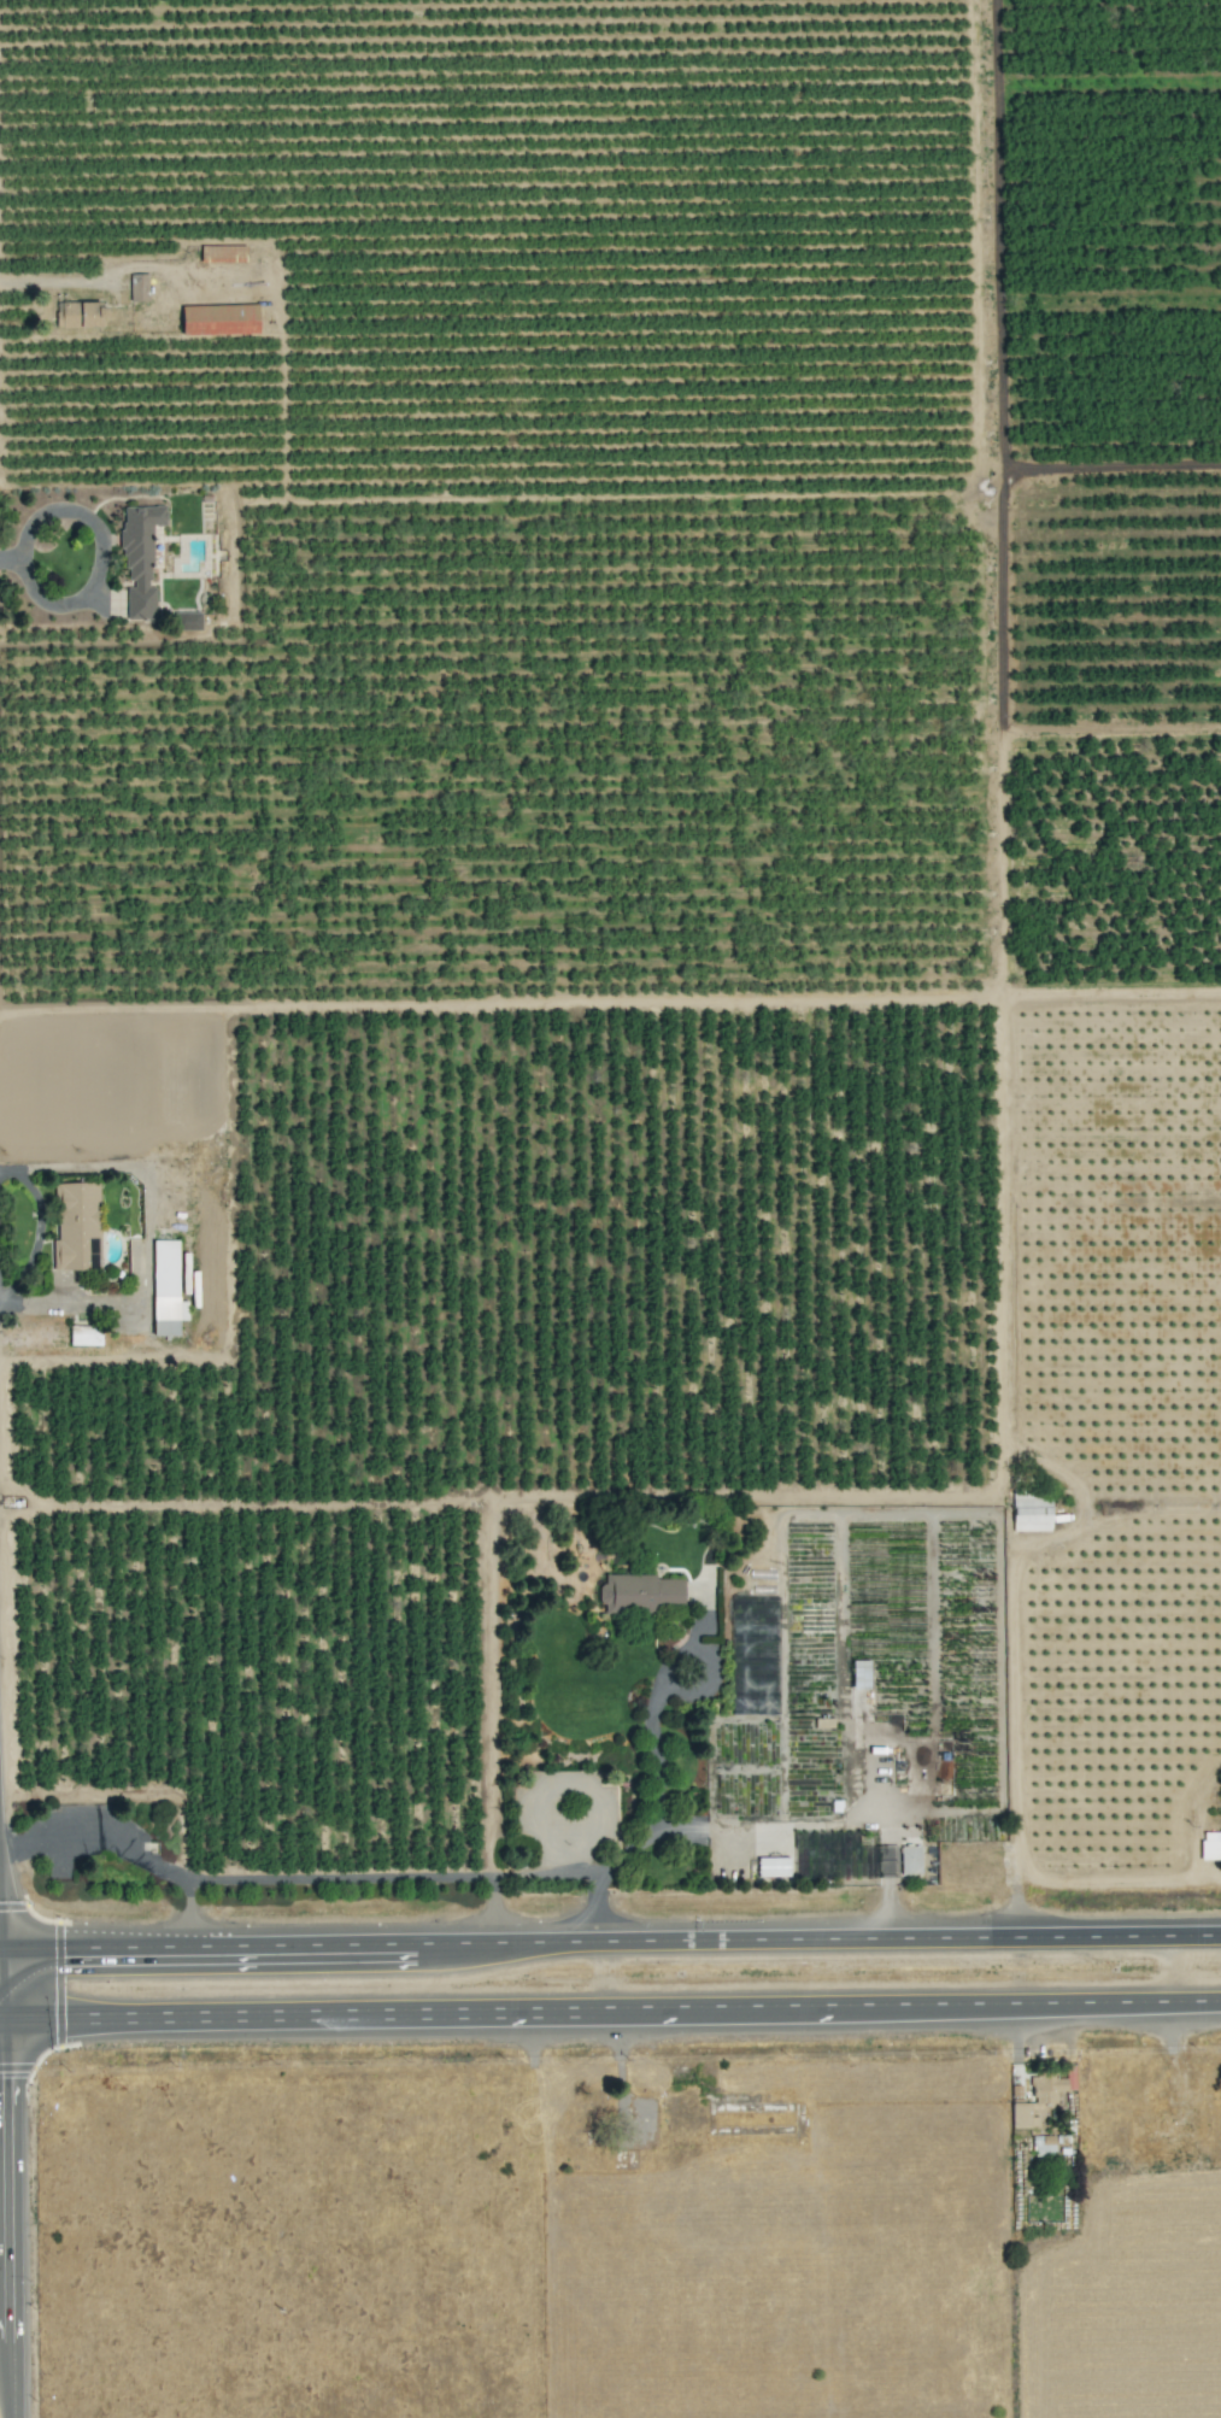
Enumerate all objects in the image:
building: (137, 287)
building: (82, 315)
building: (218, 319)
road: (100, 553)
road: (8, 556)
building: (139, 559)
building: (187, 621)
crop: (580, 1107)
building: (75, 1227)
road: (39, 1229)
building: (165, 1290)
building: (1031, 1510)
building: (638, 1592)
building: (859, 1674)
road: (1011, 1713)
road: (657, 1773)
building: (1210, 1845)
building: (909, 1860)
building: (771, 1867)
road: (293, 1879)
road: (492, 1911)
road: (188, 1915)
road: (610, 1941)
road: (610, 2011)
building: (1040, 2096)
building: (1043, 2146)

